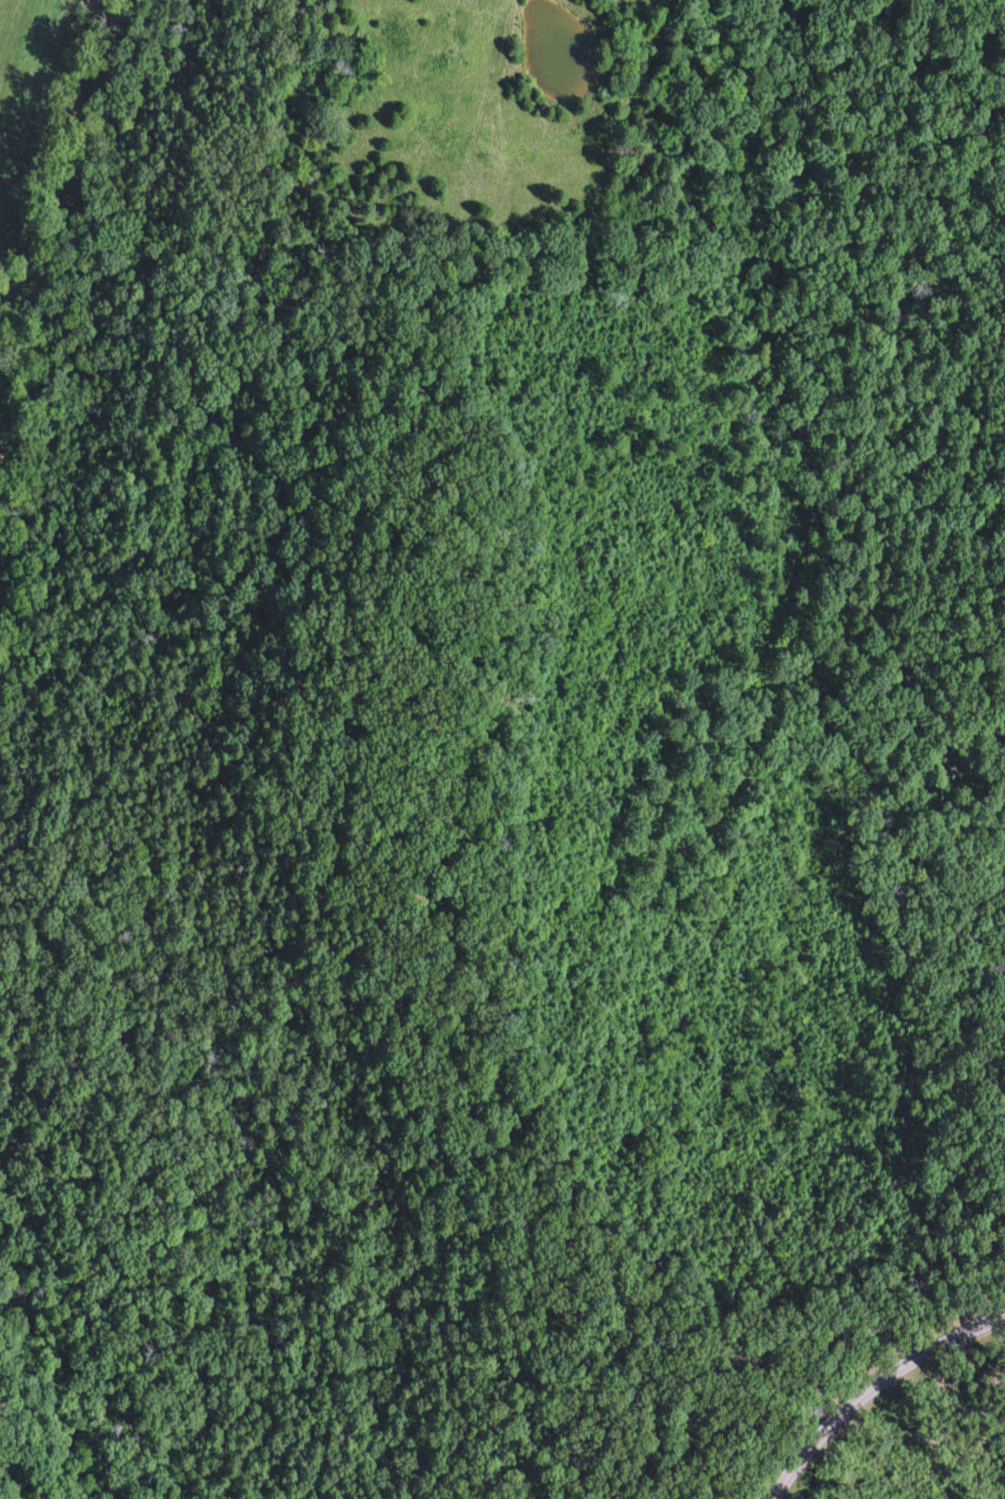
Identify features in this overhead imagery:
road: (878, 1387)

